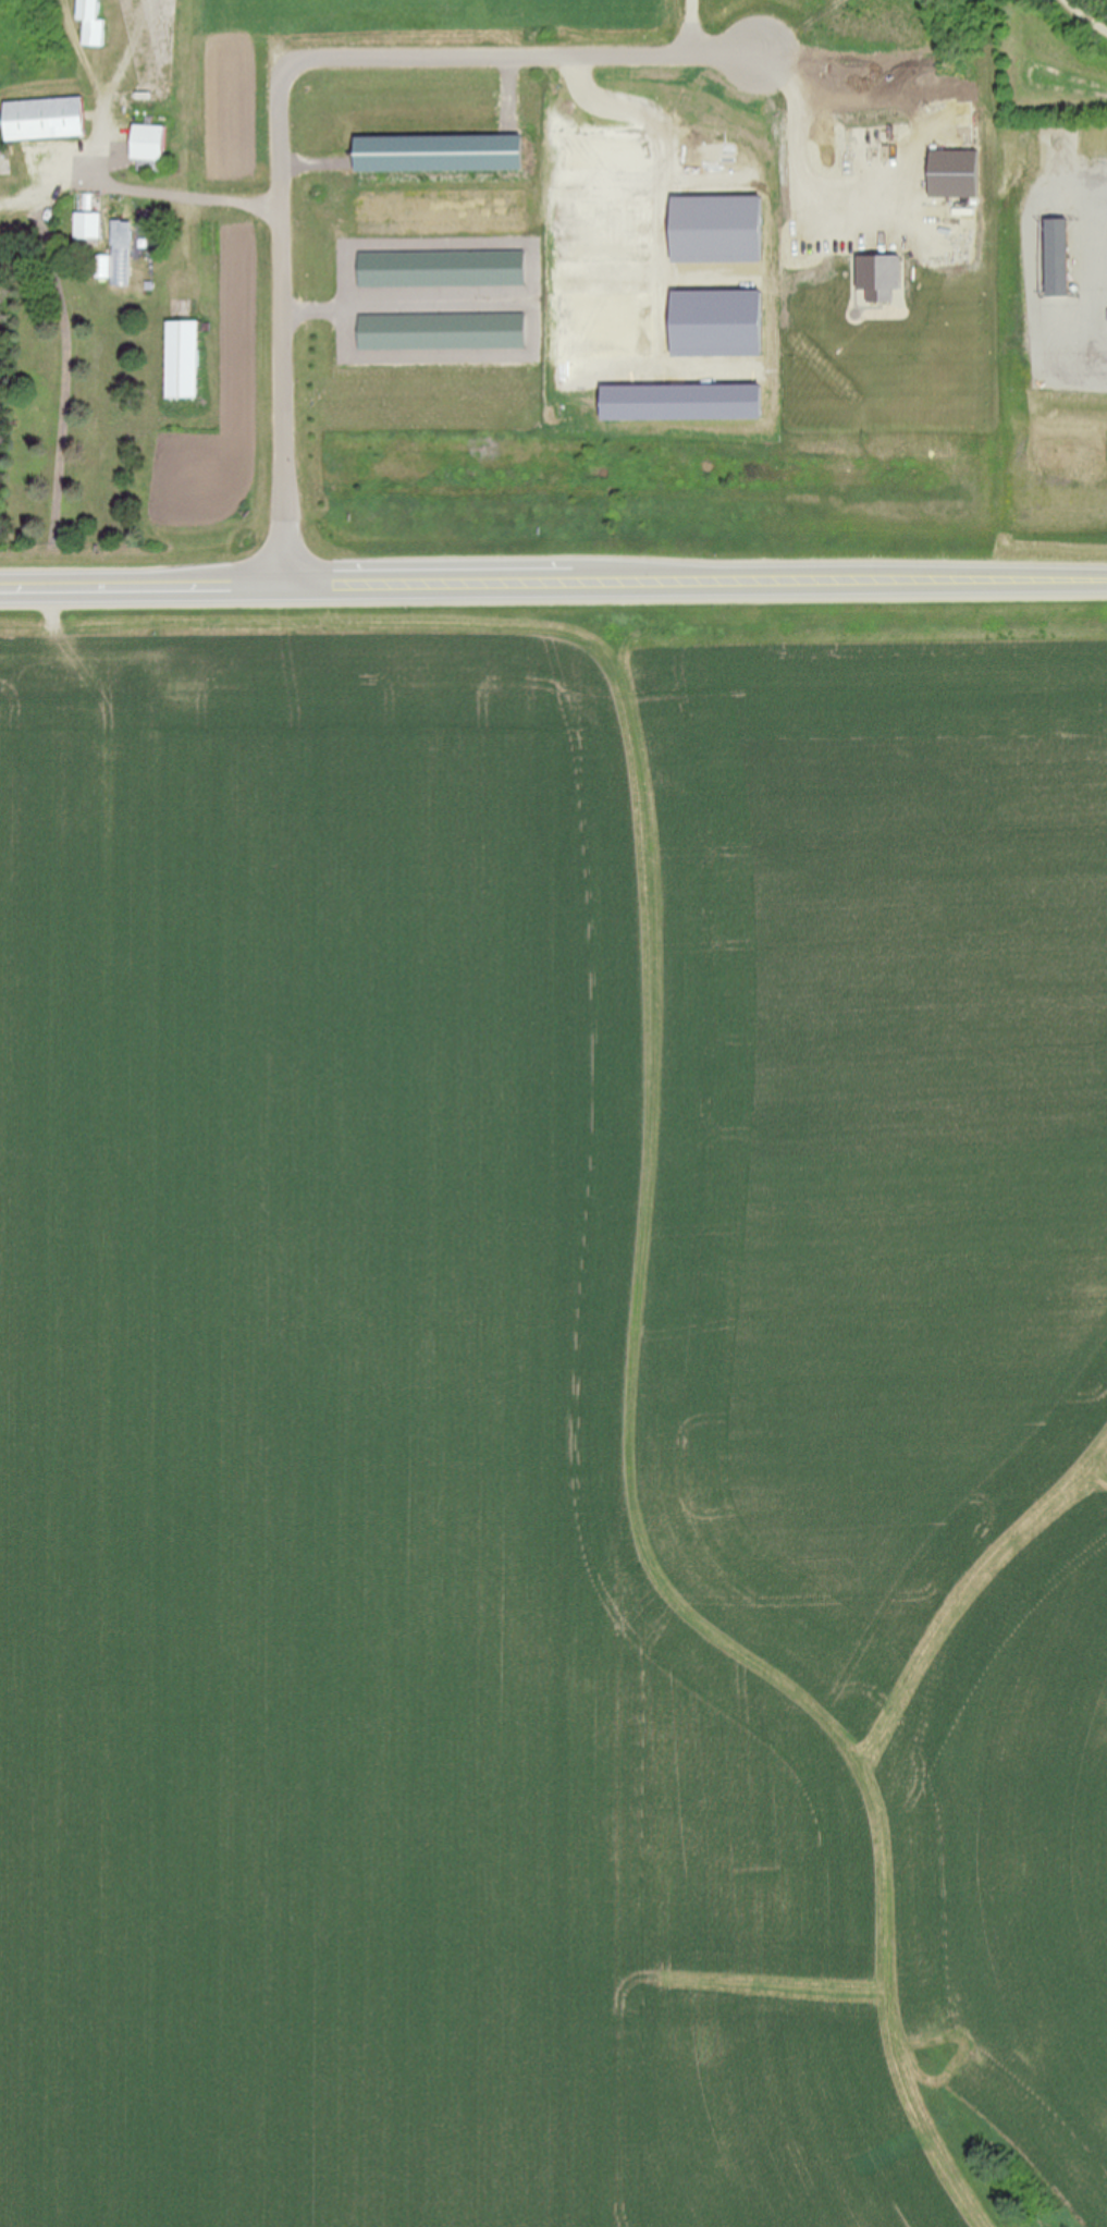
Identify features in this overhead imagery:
building: (96, 21)
road: (685, 26)
road: (85, 49)
road: (132, 50)
road: (519, 56)
building: (48, 119)
building: (155, 143)
building: (444, 154)
road: (800, 163)
road: (150, 187)
building: (1057, 259)
road: (281, 320)
building: (444, 332)
building: (187, 359)
road: (553, 594)

